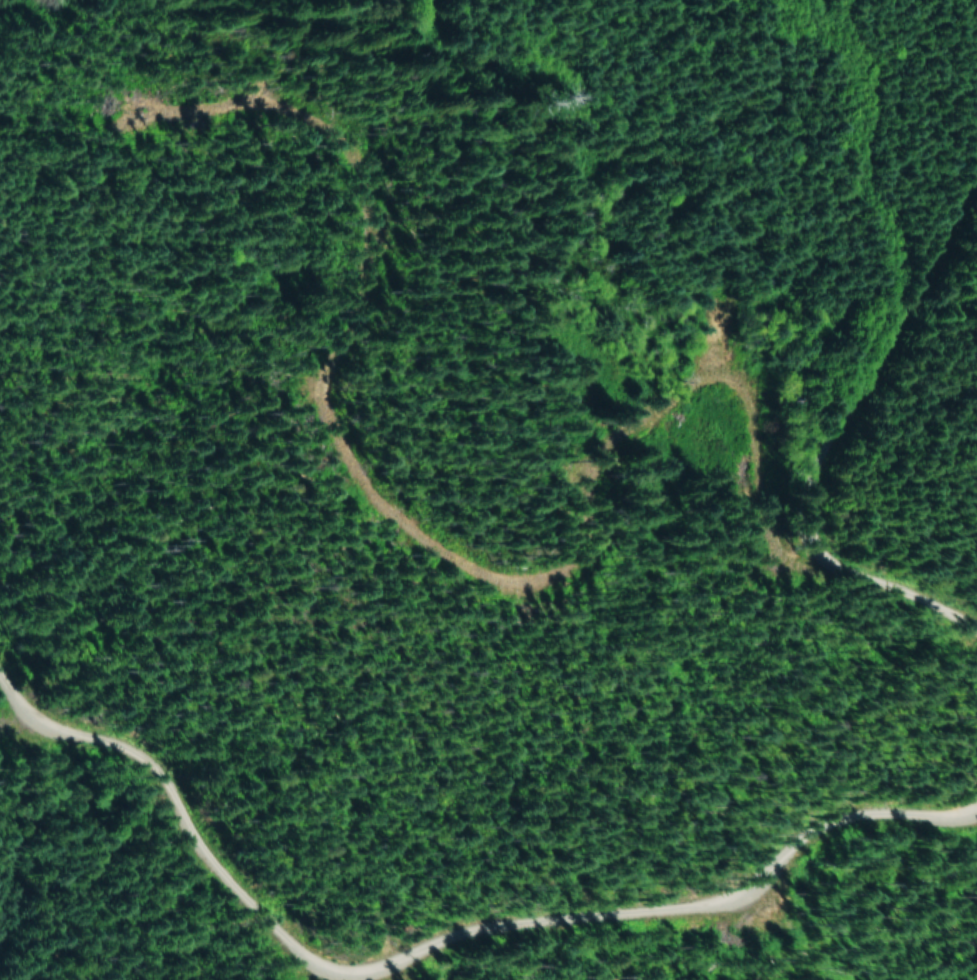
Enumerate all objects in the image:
road: (850, 420)
road: (432, 951)

